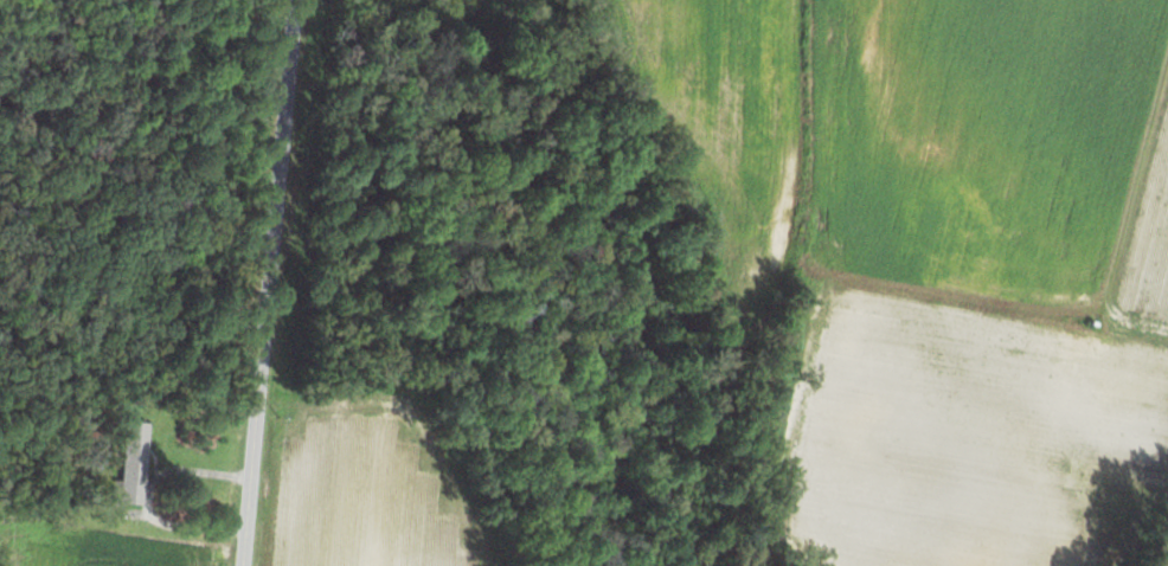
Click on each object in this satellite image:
road: (265, 282)
building: (130, 465)

